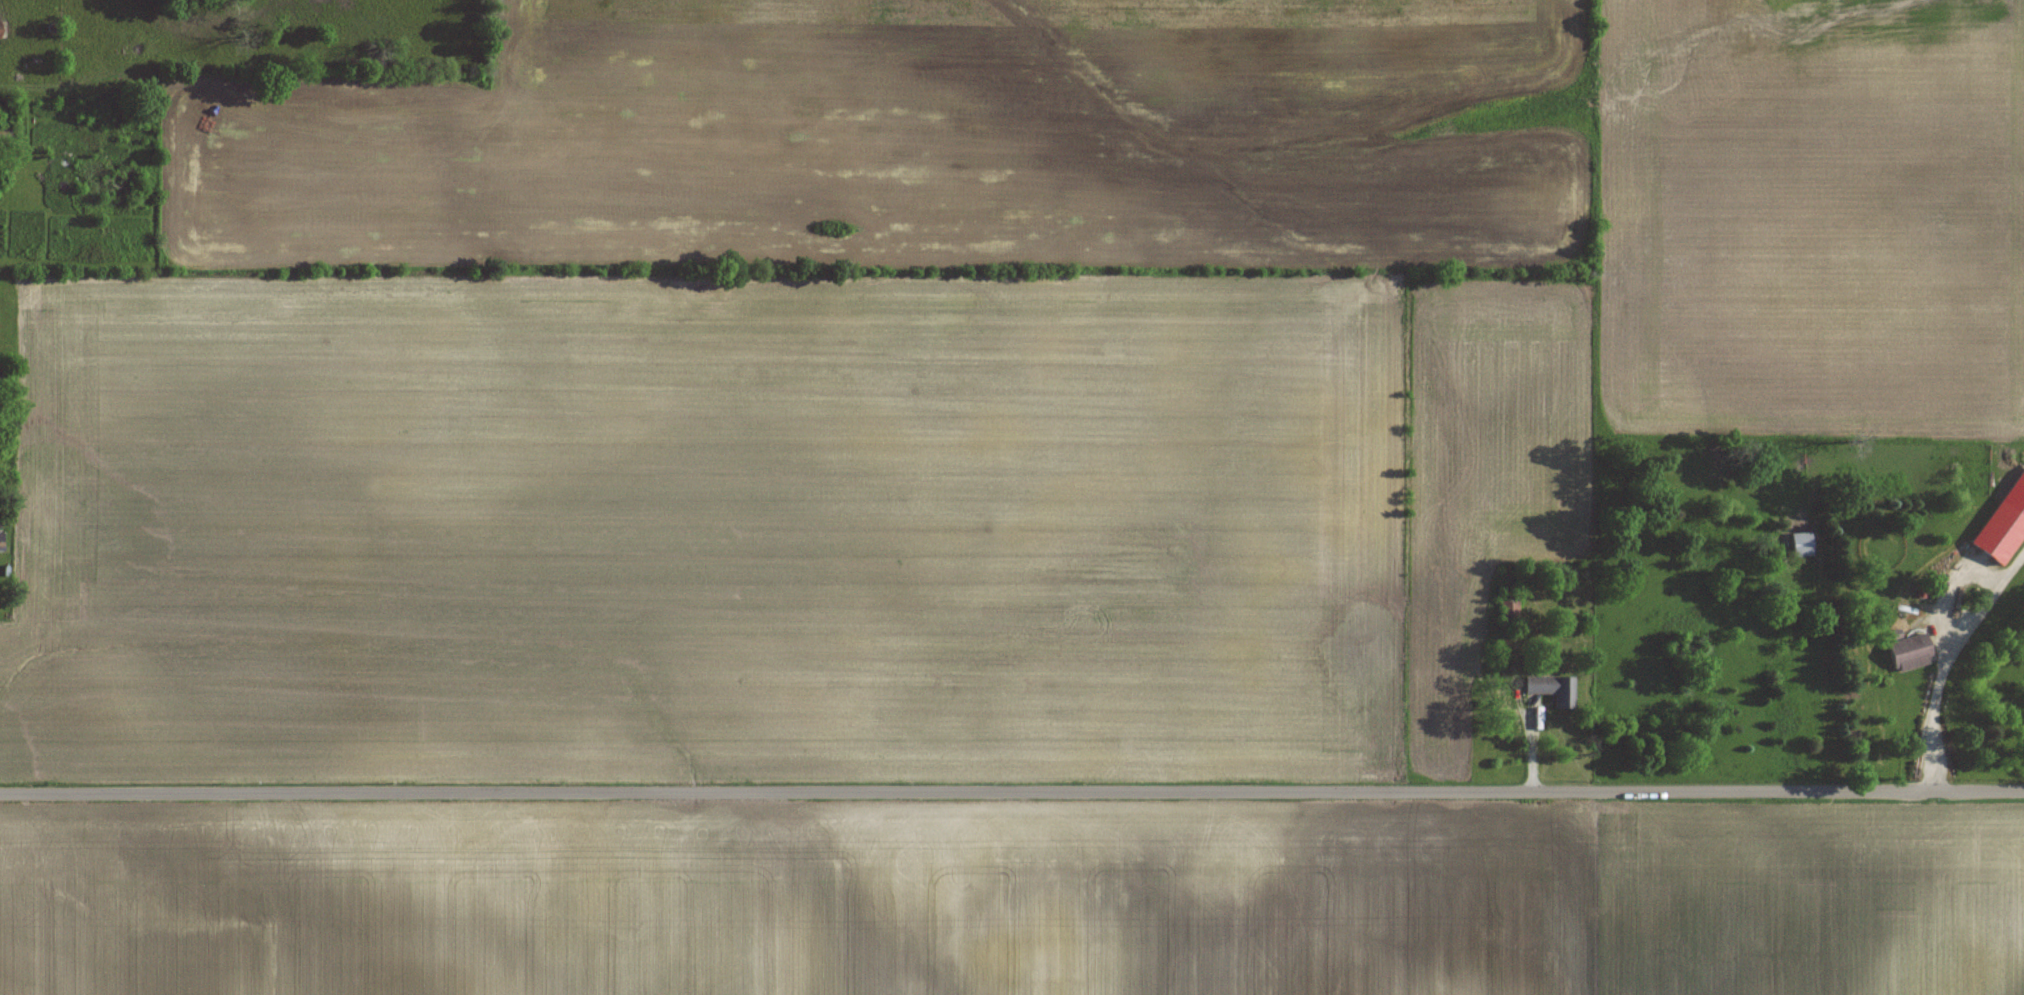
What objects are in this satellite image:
building: (0, 32)
building: (5, 135)
building: (120, 187)
building: (1995, 533)
building: (1, 548)
building: (1510, 612)
building: (1905, 651)
road: (1952, 665)
building: (1555, 688)
road: (1011, 790)
crop: (1013, 899)

